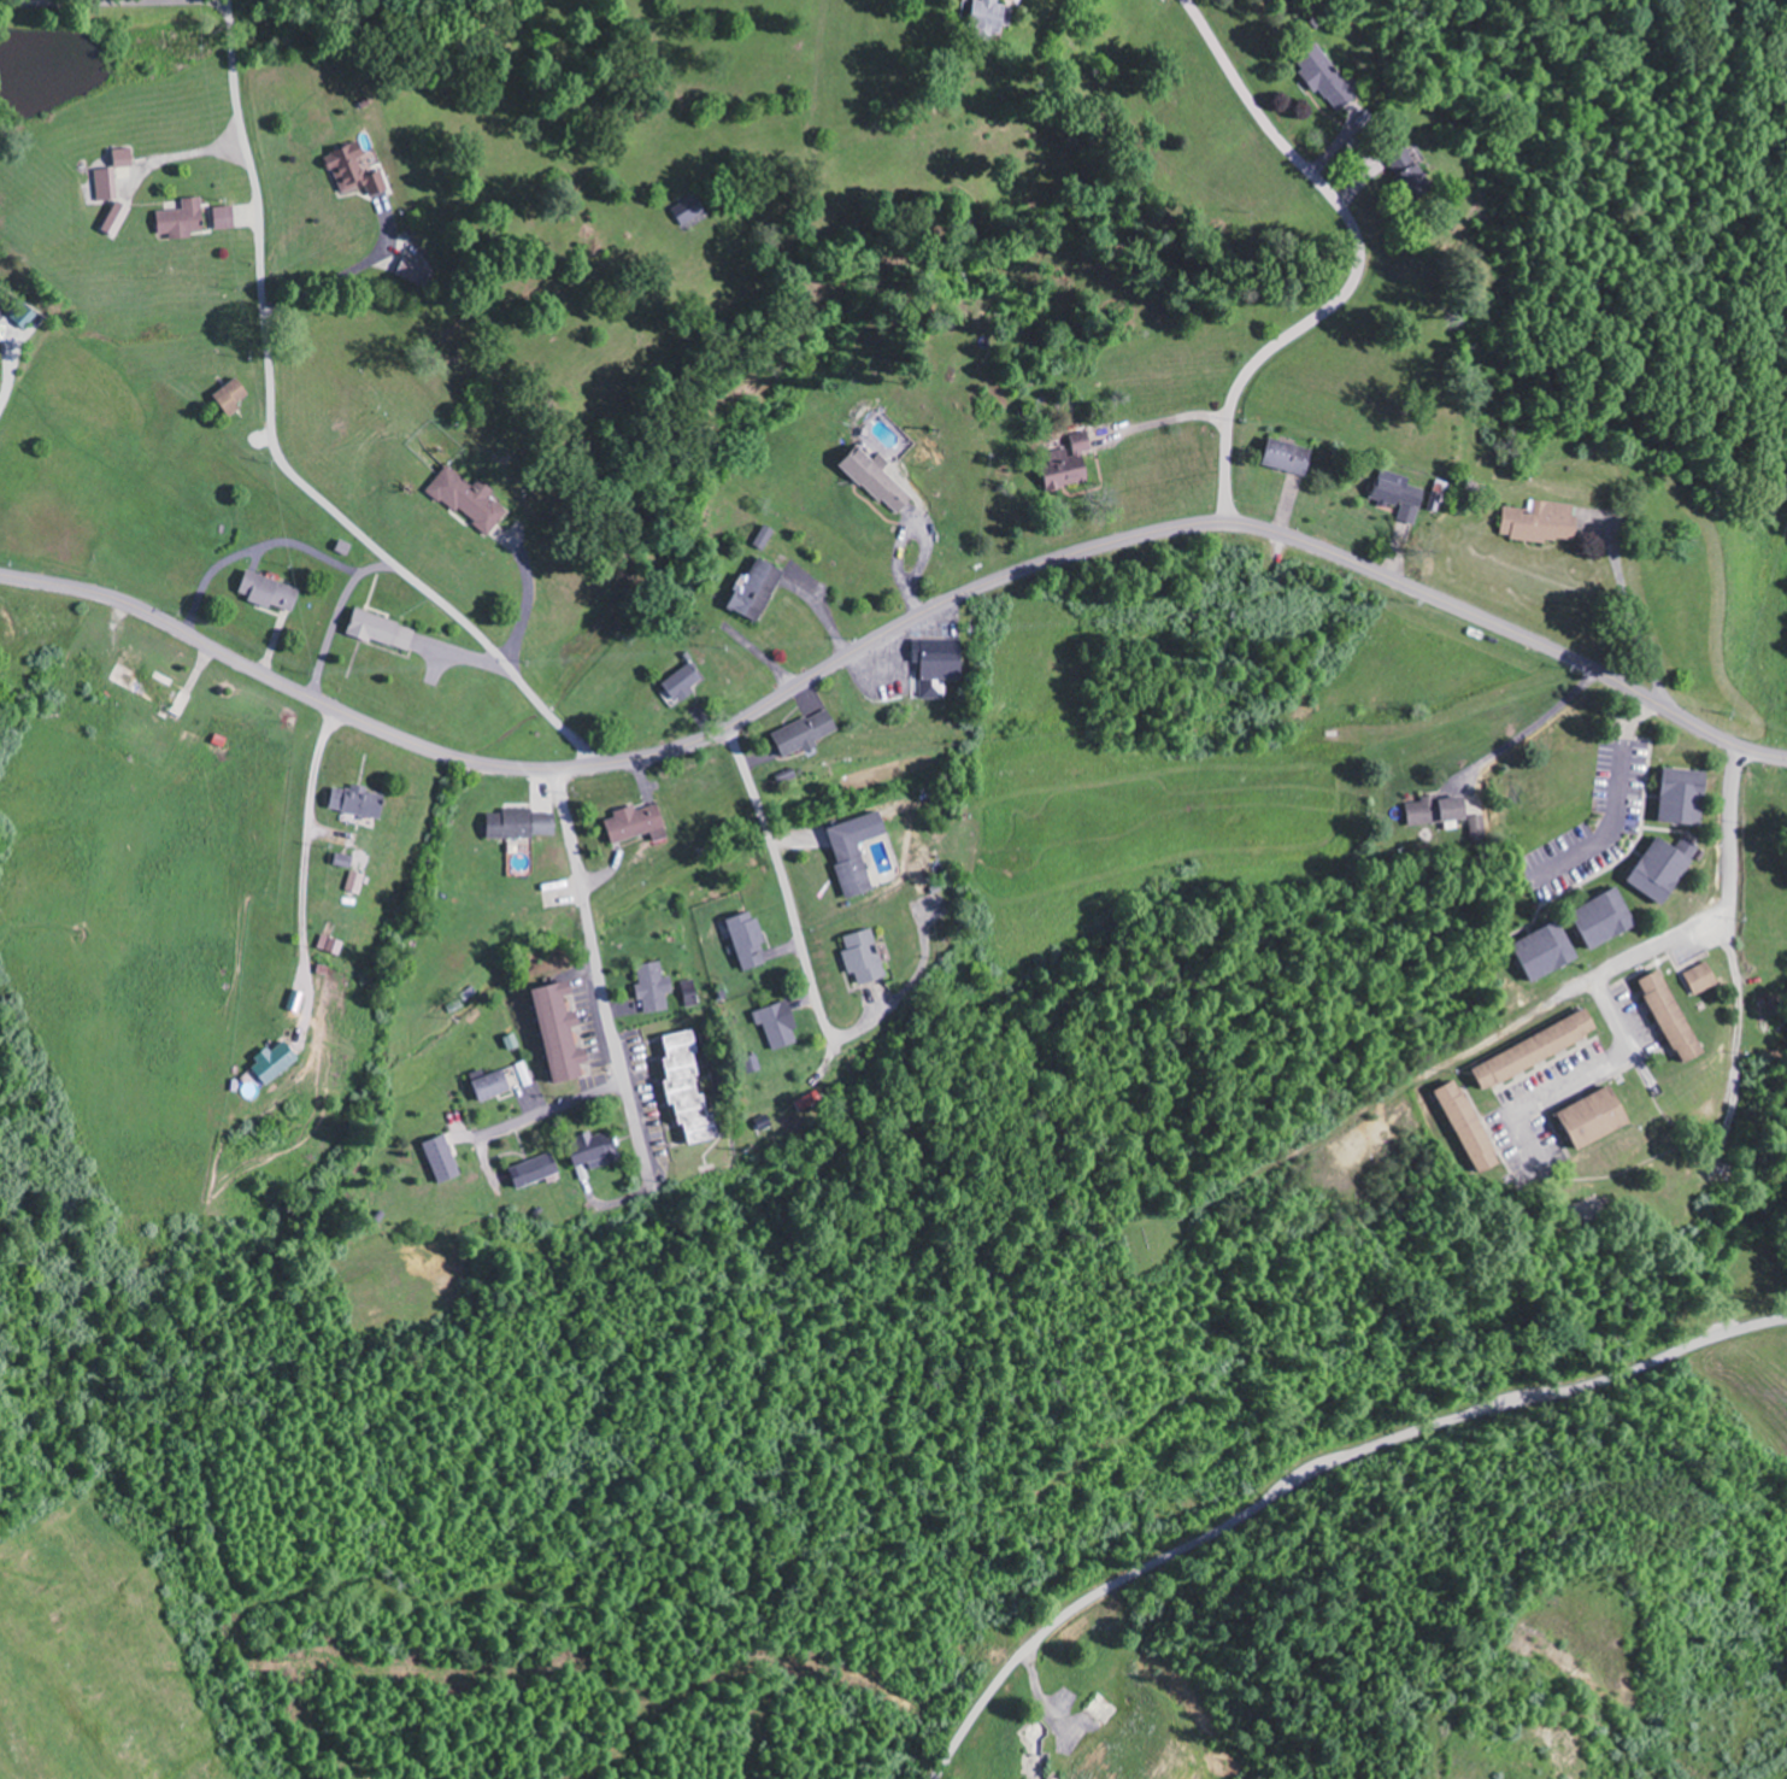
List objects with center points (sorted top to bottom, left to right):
road: (114, 2)
building: (994, 17)
building: (1327, 80)
building: (125, 159)
building: (357, 174)
building: (107, 186)
building: (690, 211)
building: (119, 219)
building: (227, 219)
building: (184, 221)
road: (1358, 262)
building: (417, 274)
road: (10, 363)
building: (234, 397)
road: (278, 450)
building: (1291, 457)
building: (1071, 463)
building: (881, 480)
building: (1401, 495)
building: (471, 499)
building: (1544, 522)
building: (766, 538)
building: (759, 589)
building: (272, 592)
road: (892, 629)
building: (383, 630)
building: (940, 665)
building: (686, 682)
road: (1524, 732)
building: (807, 733)
building: (1686, 797)
building: (359, 802)
building: (1441, 811)
building: (640, 823)
building: (524, 824)
building: (858, 852)
building: (346, 861)
building: (1668, 868)
road: (783, 882)
building: (357, 883)
building: (1609, 918)
building: (751, 940)
building: (333, 945)
building: (1550, 951)
road: (1648, 953)
building: (865, 957)
road: (599, 974)
building: (1705, 979)
building: (657, 987)
road: (906, 988)
building: (1675, 1017)
building: (778, 1026)
building: (564, 1033)
road: (1735, 1038)
building: (1540, 1050)
building: (276, 1063)
building: (494, 1086)
building: (690, 1086)
building: (810, 1100)
road: (552, 1106)
building: (1599, 1117)
building: (1472, 1127)
building: (595, 1152)
building: (445, 1159)
building: (537, 1172)
park: (1152, 1250)
road: (1317, 1470)

